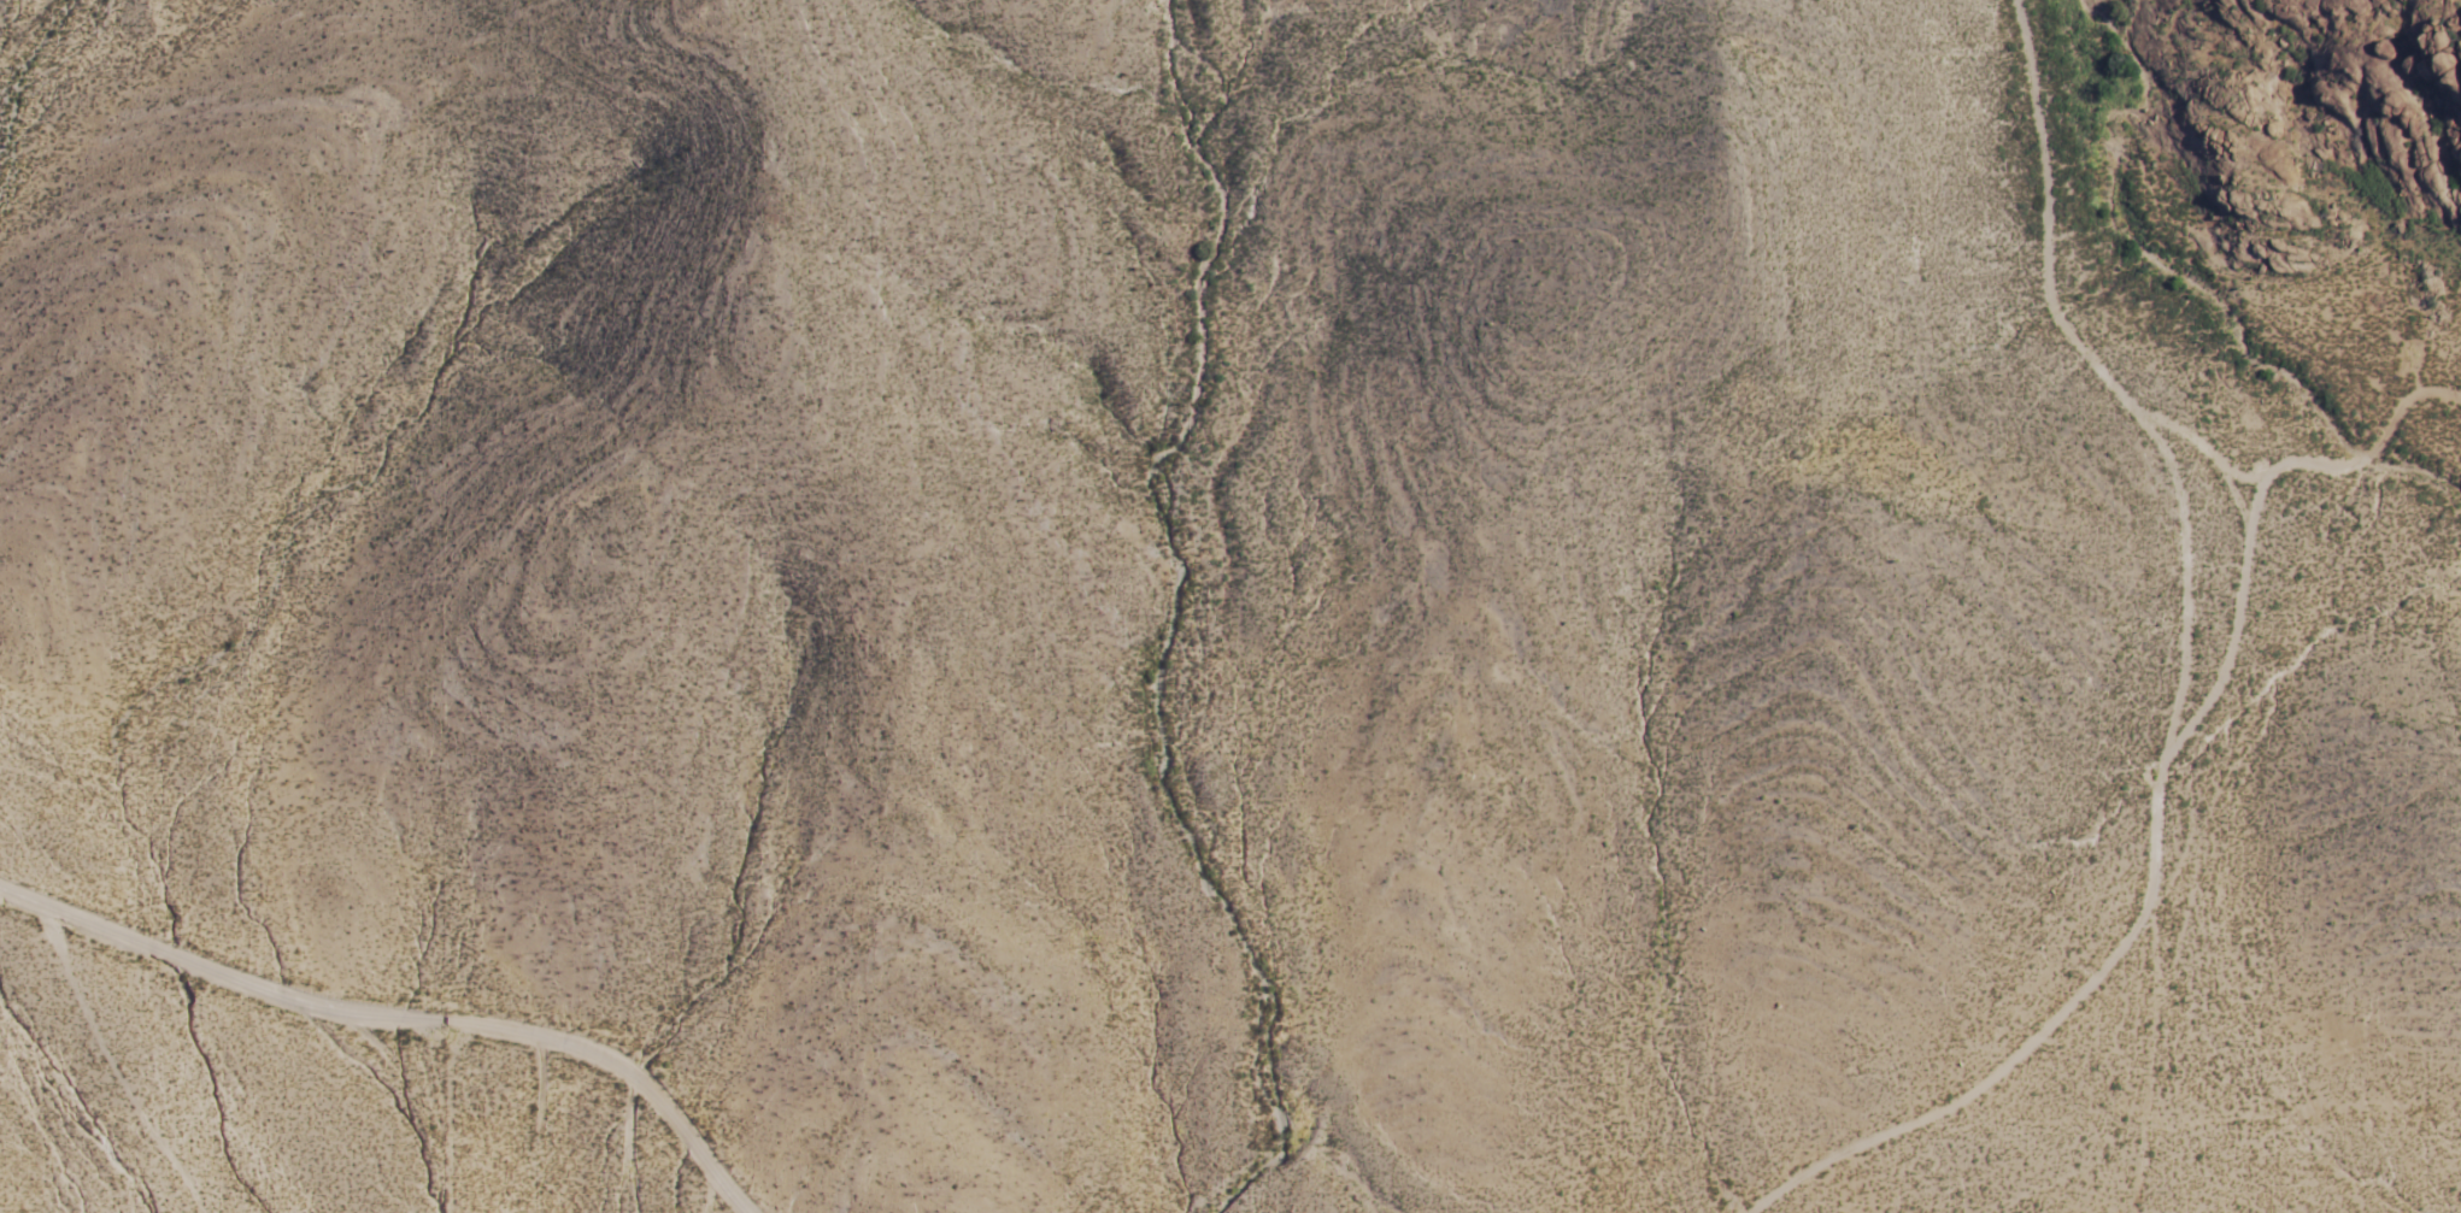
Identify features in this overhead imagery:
road: (2310, 469)
road: (2184, 694)
road: (397, 1019)

